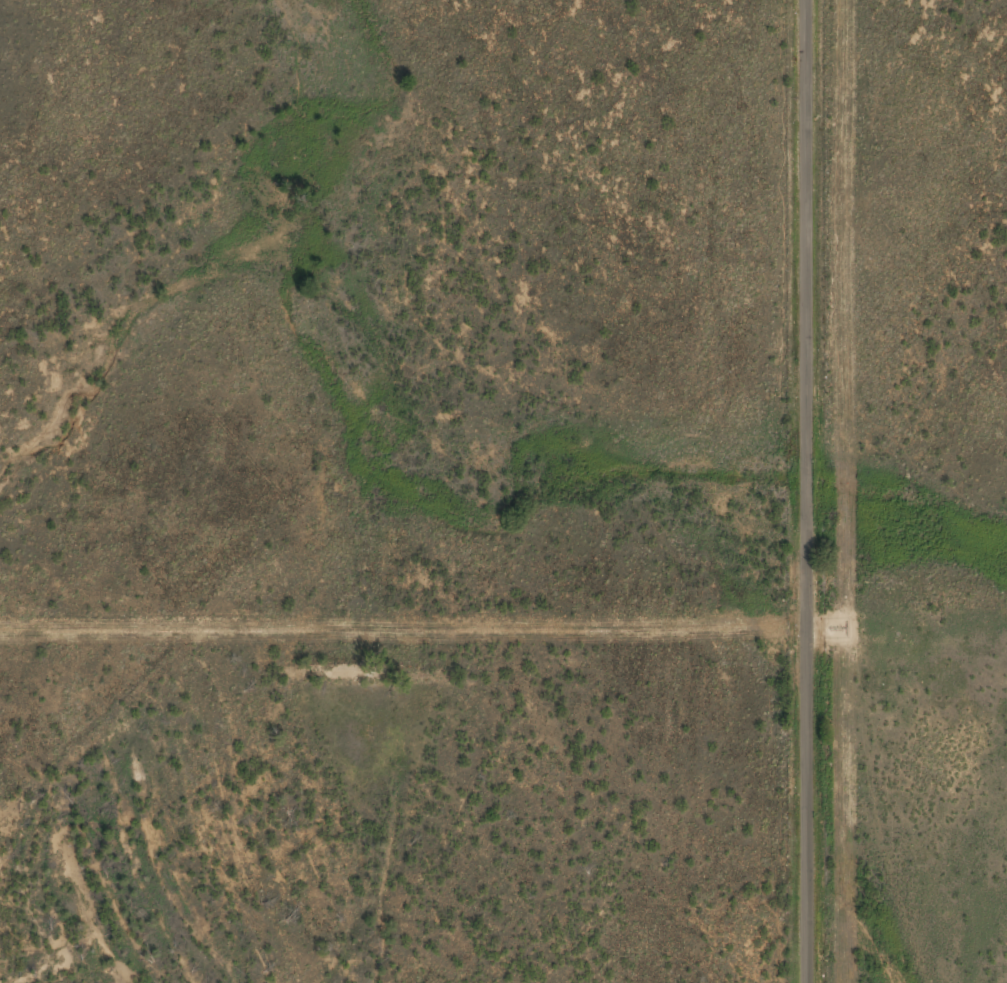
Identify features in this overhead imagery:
road: (807, 491)

